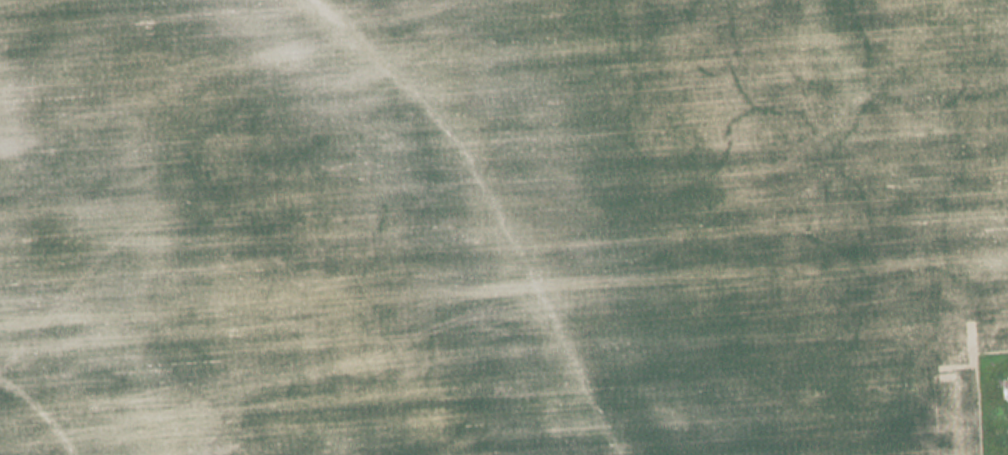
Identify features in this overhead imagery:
building: (1004, 389)

